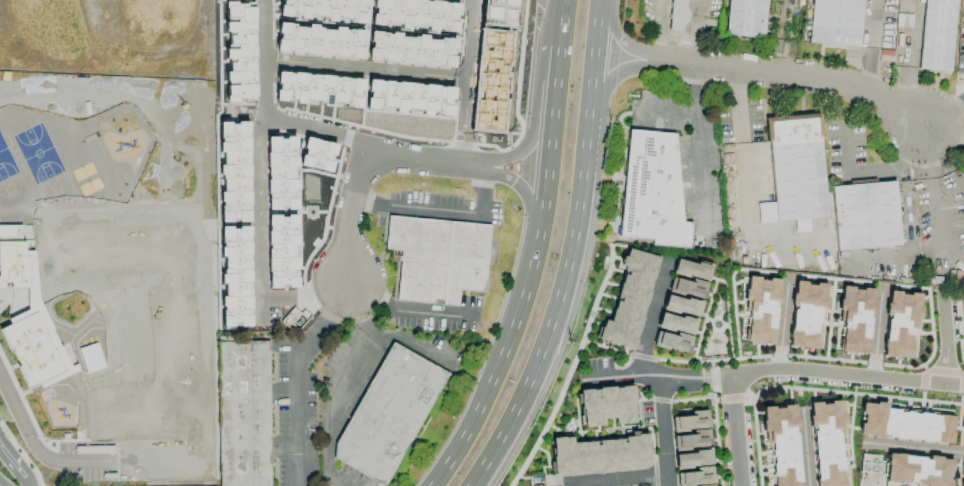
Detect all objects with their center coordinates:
building: (324, 9)
building: (416, 13)
building: (680, 15)
building: (746, 17)
building: (836, 22)
road: (659, 33)
building: (938, 34)
road: (696, 35)
road: (179, 39)
building: (319, 41)
building: (410, 49)
road: (869, 49)
building: (240, 51)
road: (906, 57)
road: (265, 58)
road: (366, 70)
road: (769, 76)
road: (467, 81)
building: (318, 89)
building: (409, 98)
road: (737, 103)
road: (666, 111)
road: (947, 121)
road: (698, 145)
building: (317, 154)
road: (402, 155)
road: (875, 170)
building: (795, 171)
building: (234, 172)
building: (281, 173)
building: (653, 191)
road: (932, 192)
road: (438, 209)
road: (348, 213)
building: (865, 216)
building: (280, 235)
road: (258, 252)
road: (572, 253)
road: (535, 254)
building: (438, 259)
building: (691, 269)
building: (236, 276)
building: (685, 287)
building: (629, 298)
building: (682, 305)
building: (760, 309)
road: (407, 310)
building: (27, 313)
park: (961, 314)
road: (653, 316)
building: (854, 318)
building: (676, 323)
building: (901, 324)
road: (782, 327)
road: (877, 334)
road: (944, 338)
building: (672, 341)
road: (846, 373)
road: (296, 377)
road: (657, 377)
road: (346, 385)
building: (606, 405)
building: (244, 414)
building: (389, 415)
building: (691, 420)
building: (905, 424)
road: (734, 431)
road: (663, 432)
building: (693, 439)
building: (827, 442)
building: (781, 443)
road: (911, 446)
road: (805, 449)
road: (41, 453)
building: (599, 455)
building: (692, 459)
road: (14, 470)
building: (918, 470)
road: (619, 477)
building: (696, 477)
road: (1, 483)
road: (572, 483)

